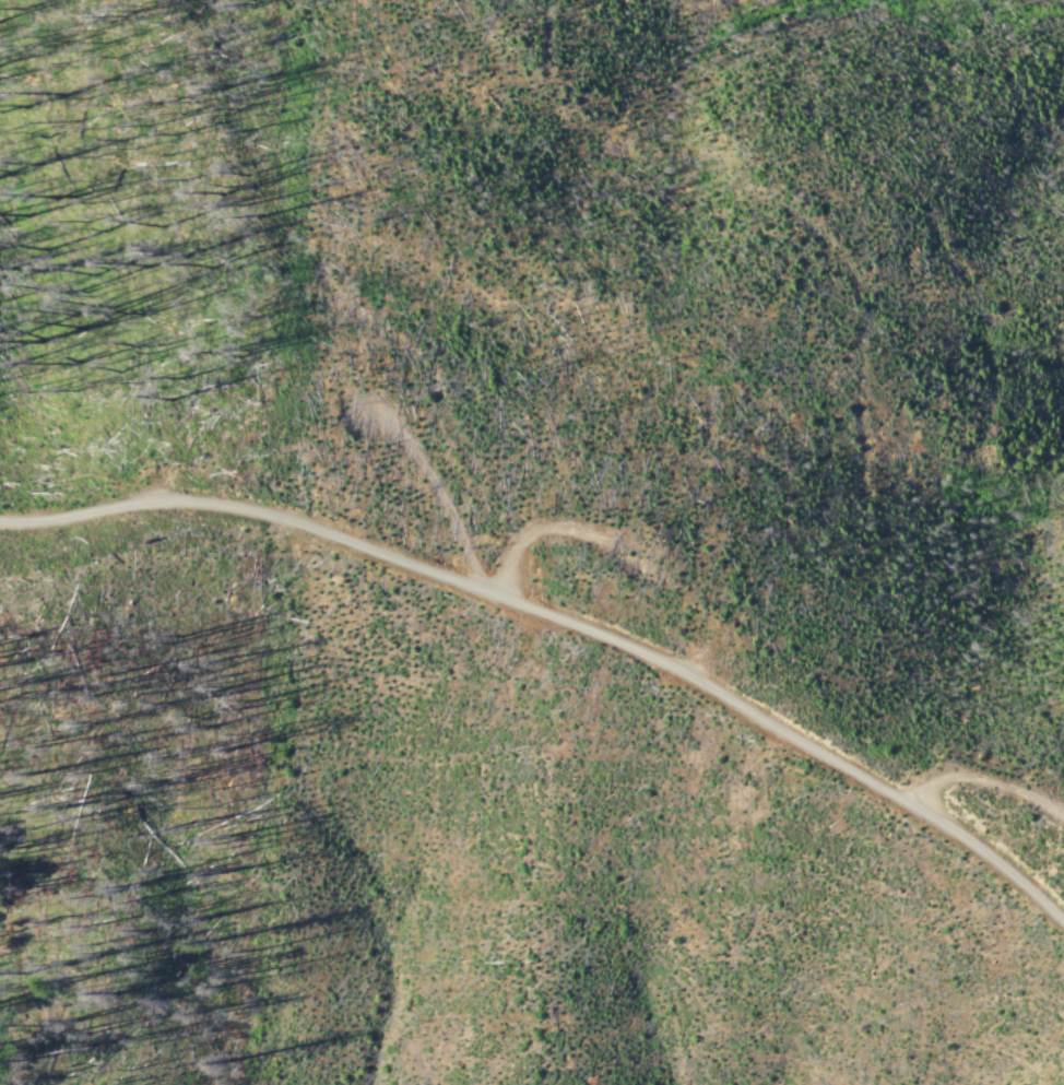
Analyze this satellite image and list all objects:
road: (537, 529)
road: (563, 622)
road: (988, 780)

